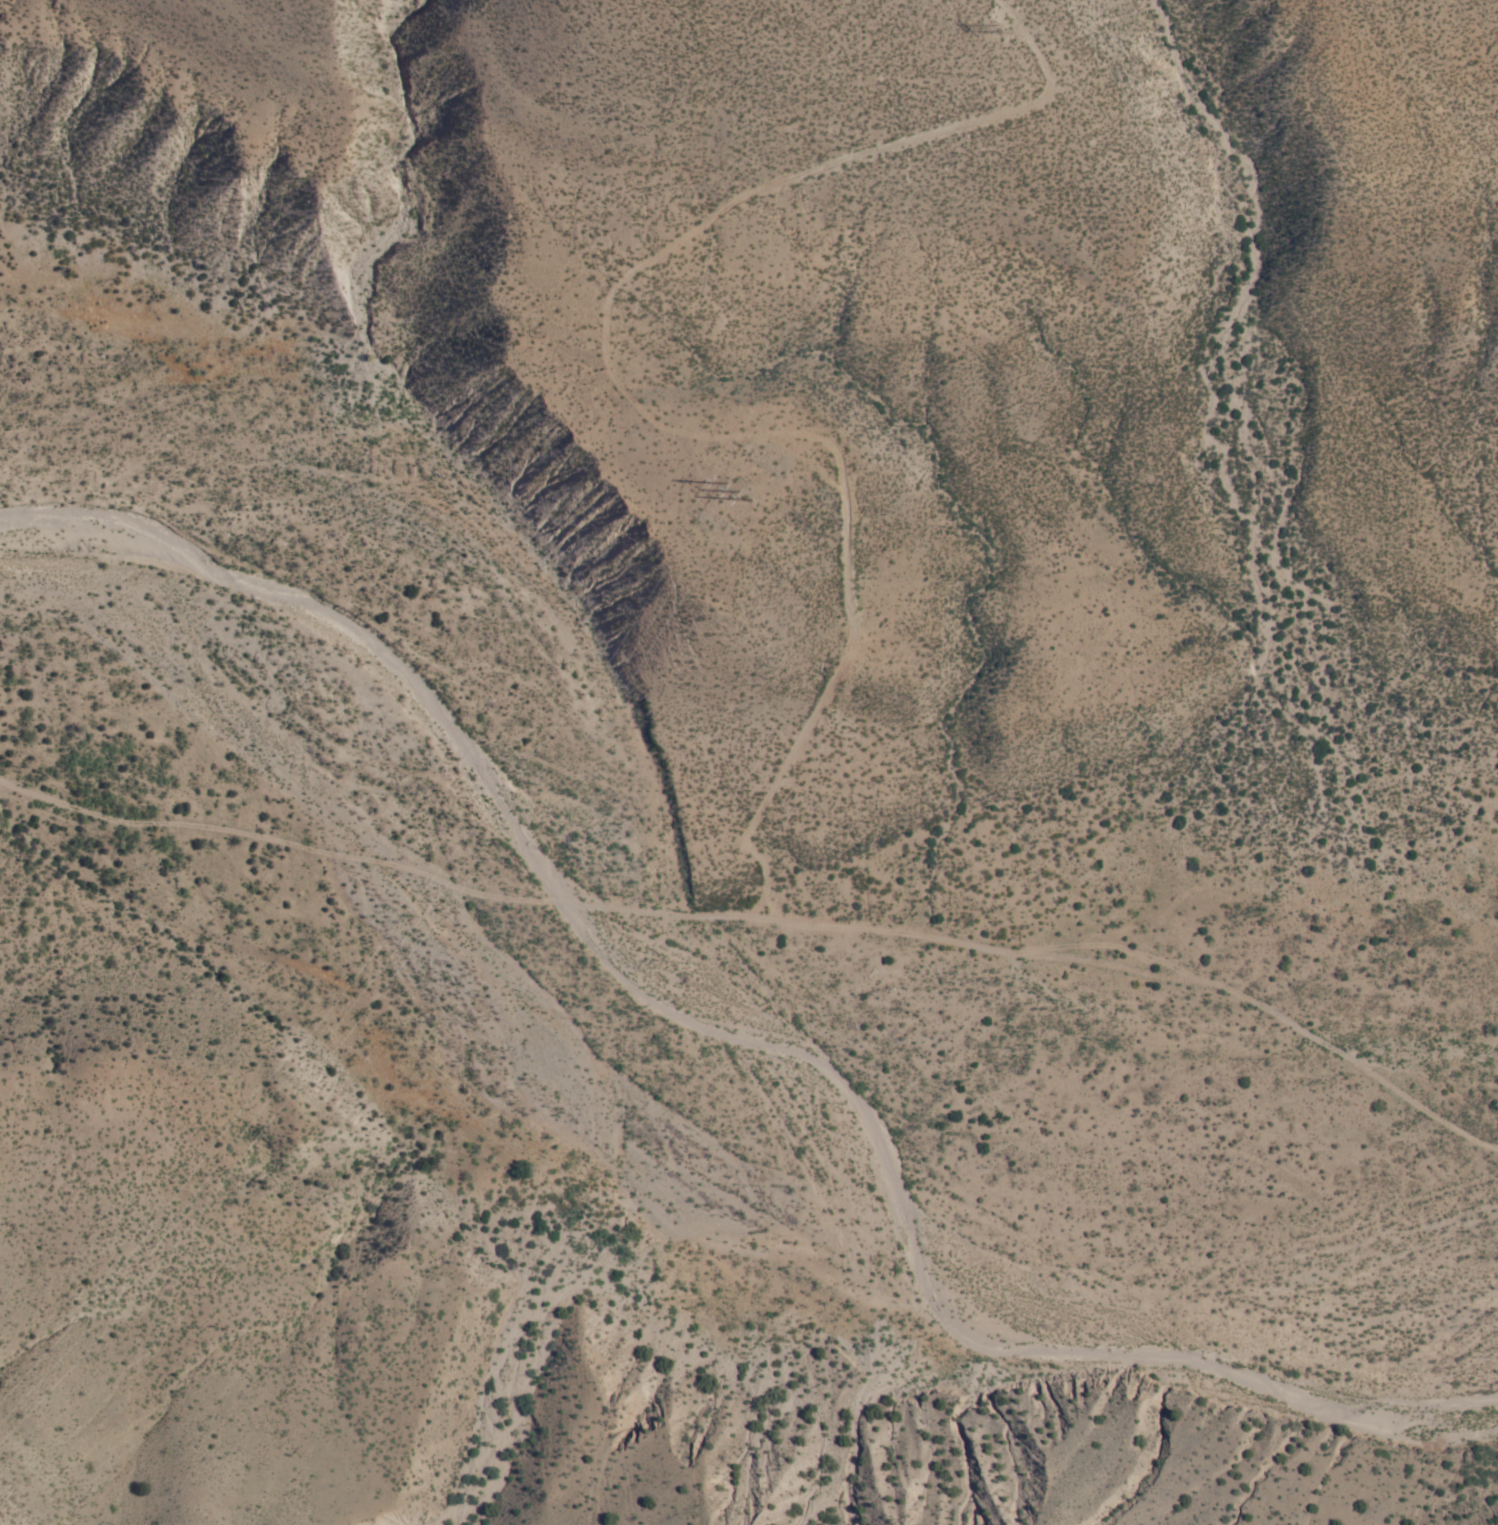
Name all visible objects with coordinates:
power tower: (996, 26)
road: (631, 406)
power tower: (730, 492)
road: (765, 921)

